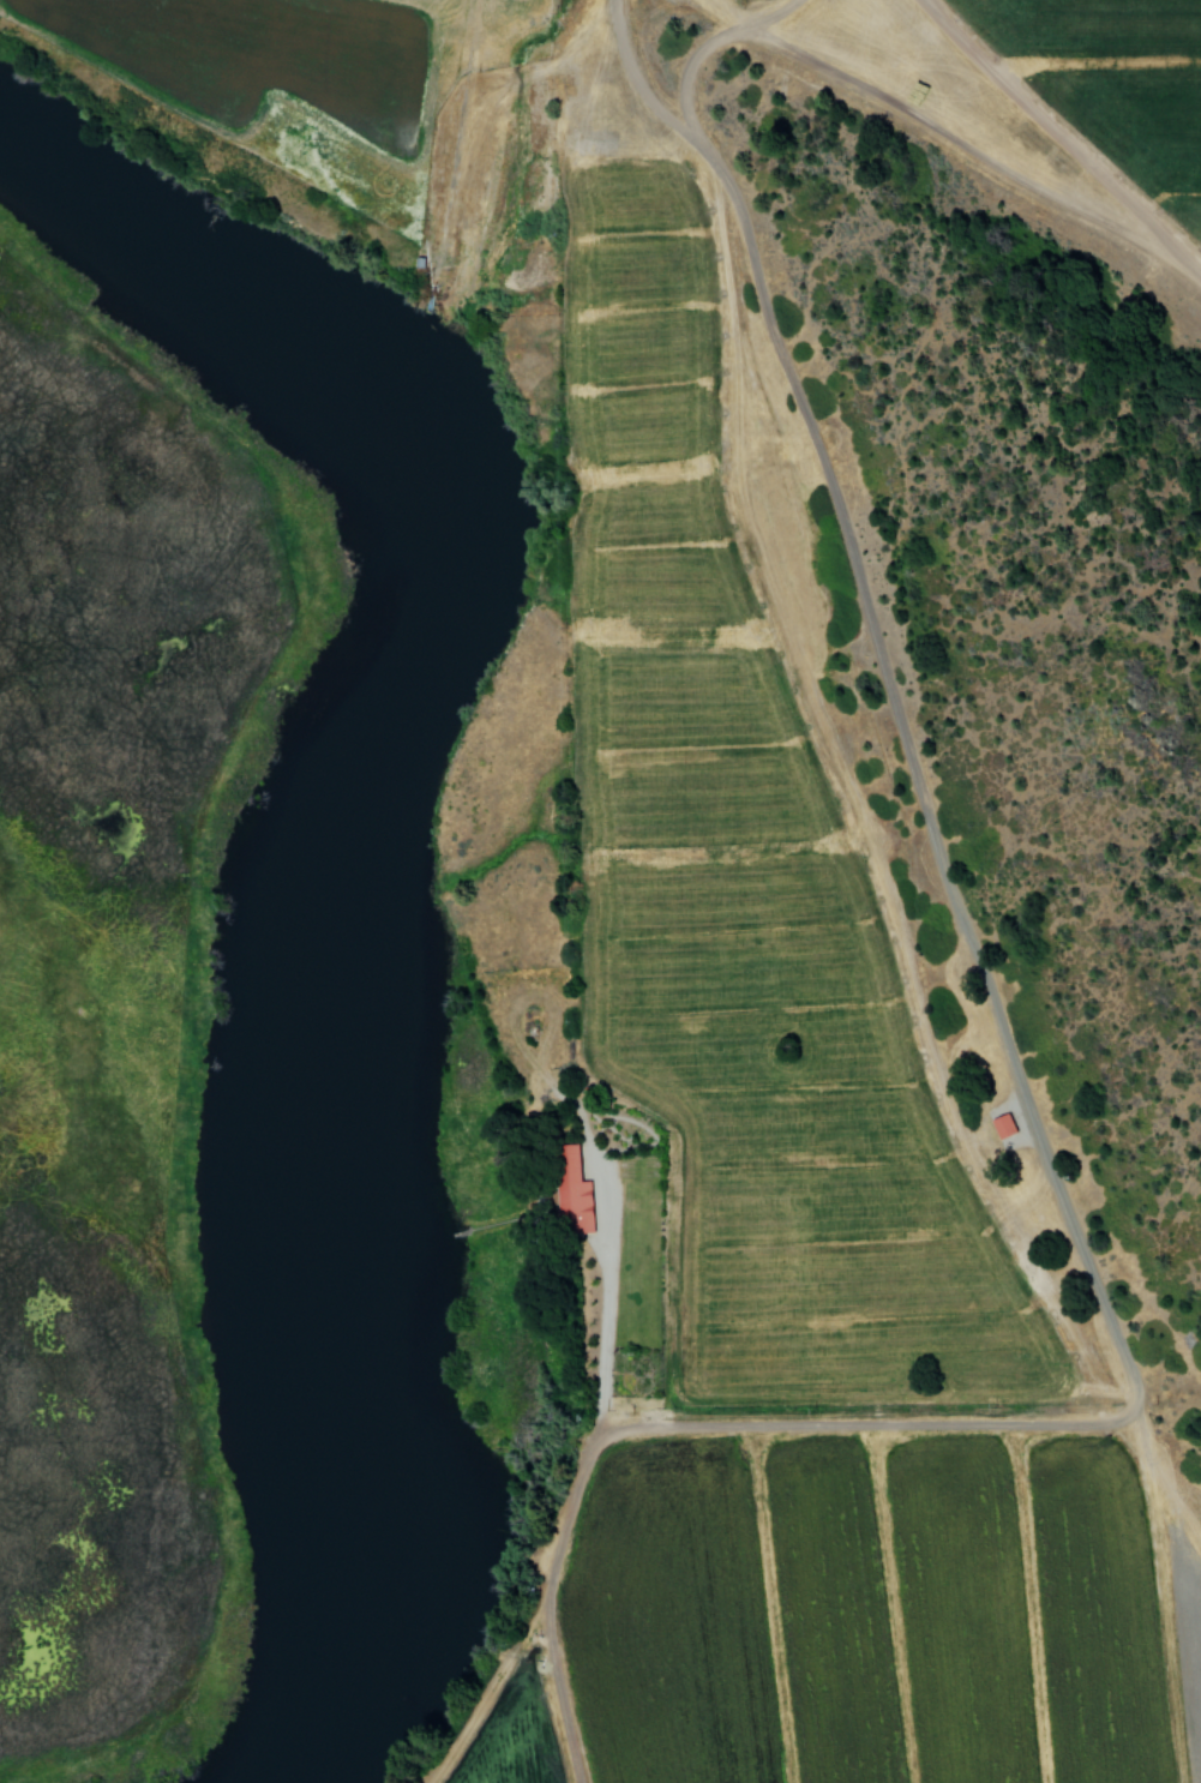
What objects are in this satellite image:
river: (343, 860)
building: (1002, 1125)

